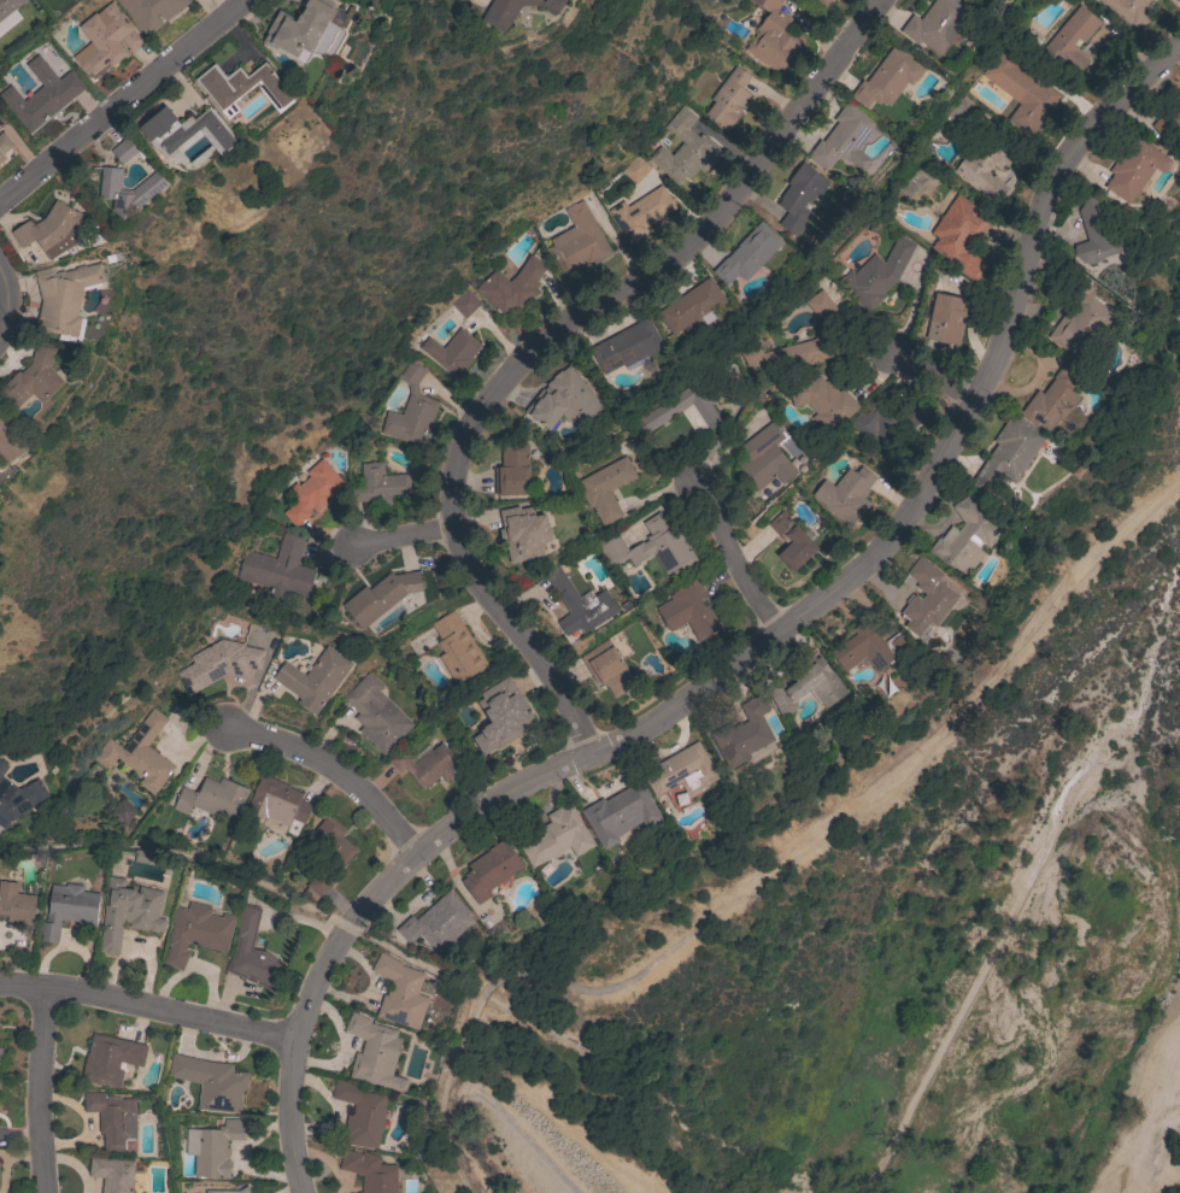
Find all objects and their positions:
building: (821, 2)
building: (8, 6)
building: (1128, 10)
building: (513, 11)
building: (152, 12)
building: (937, 24)
building: (301, 28)
building: (773, 37)
building: (106, 39)
building: (1070, 40)
building: (886, 78)
building: (242, 87)
building: (41, 94)
road: (121, 98)
building: (1025, 98)
building: (728, 99)
building: (1168, 123)
building: (187, 133)
building: (849, 137)
building: (4, 145)
building: (683, 148)
building: (127, 149)
building: (0, 161)
building: (985, 166)
building: (634, 169)
building: (1134, 169)
building: (129, 190)
building: (799, 196)
building: (640, 212)
building: (52, 229)
building: (1096, 235)
building: (962, 236)
building: (577, 241)
building: (747, 254)
building: (876, 274)
building: (510, 287)
building: (63, 296)
building: (465, 304)
road: (7, 305)
building: (692, 306)
building: (822, 307)
building: (946, 318)
building: (1080, 324)
road: (538, 336)
building: (626, 346)
building: (452, 352)
building: (789, 353)
road: (932, 376)
building: (33, 377)
building: (1053, 398)
building: (562, 400)
building: (824, 402)
building: (411, 409)
building: (683, 411)
building: (883, 418)
building: (10, 439)
building: (1006, 454)
building: (764, 458)
building: (511, 470)
building: (380, 486)
building: (605, 488)
building: (311, 493)
building: (845, 494)
building: (523, 533)
road: (395, 536)
building: (965, 537)
building: (791, 542)
building: (651, 547)
road: (736, 556)
building: (278, 568)
building: (380, 595)
building: (927, 598)
building: (580, 605)
building: (689, 610)
building: (457, 647)
building: (870, 648)
road: (746, 650)
building: (218, 663)
building: (607, 668)
building: (313, 678)
building: (808, 687)
building: (375, 713)
building: (501, 715)
building: (745, 733)
building: (139, 754)
building: (428, 763)
building: (2, 766)
road: (334, 770)
building: (681, 772)
building: (212, 798)
building: (276, 800)
building: (20, 801)
building: (118, 813)
building: (620, 813)
building: (557, 836)
building: (328, 856)
road: (779, 856)
building: (489, 870)
building: (307, 882)
building: (16, 904)
building: (69, 909)
building: (128, 912)
building: (436, 922)
building: (195, 933)
building: (251, 952)
building: (400, 993)
road: (147, 1007)
building: (374, 1053)
building: (110, 1059)
building: (210, 1082)
road: (43, 1088)
building: (359, 1112)
building: (112, 1118)
road: (1157, 1138)
dam: (535, 1147)
building: (212, 1148)
building: (370, 1171)
building: (112, 1174)
building: (243, 1189)
building: (227, 1192)

